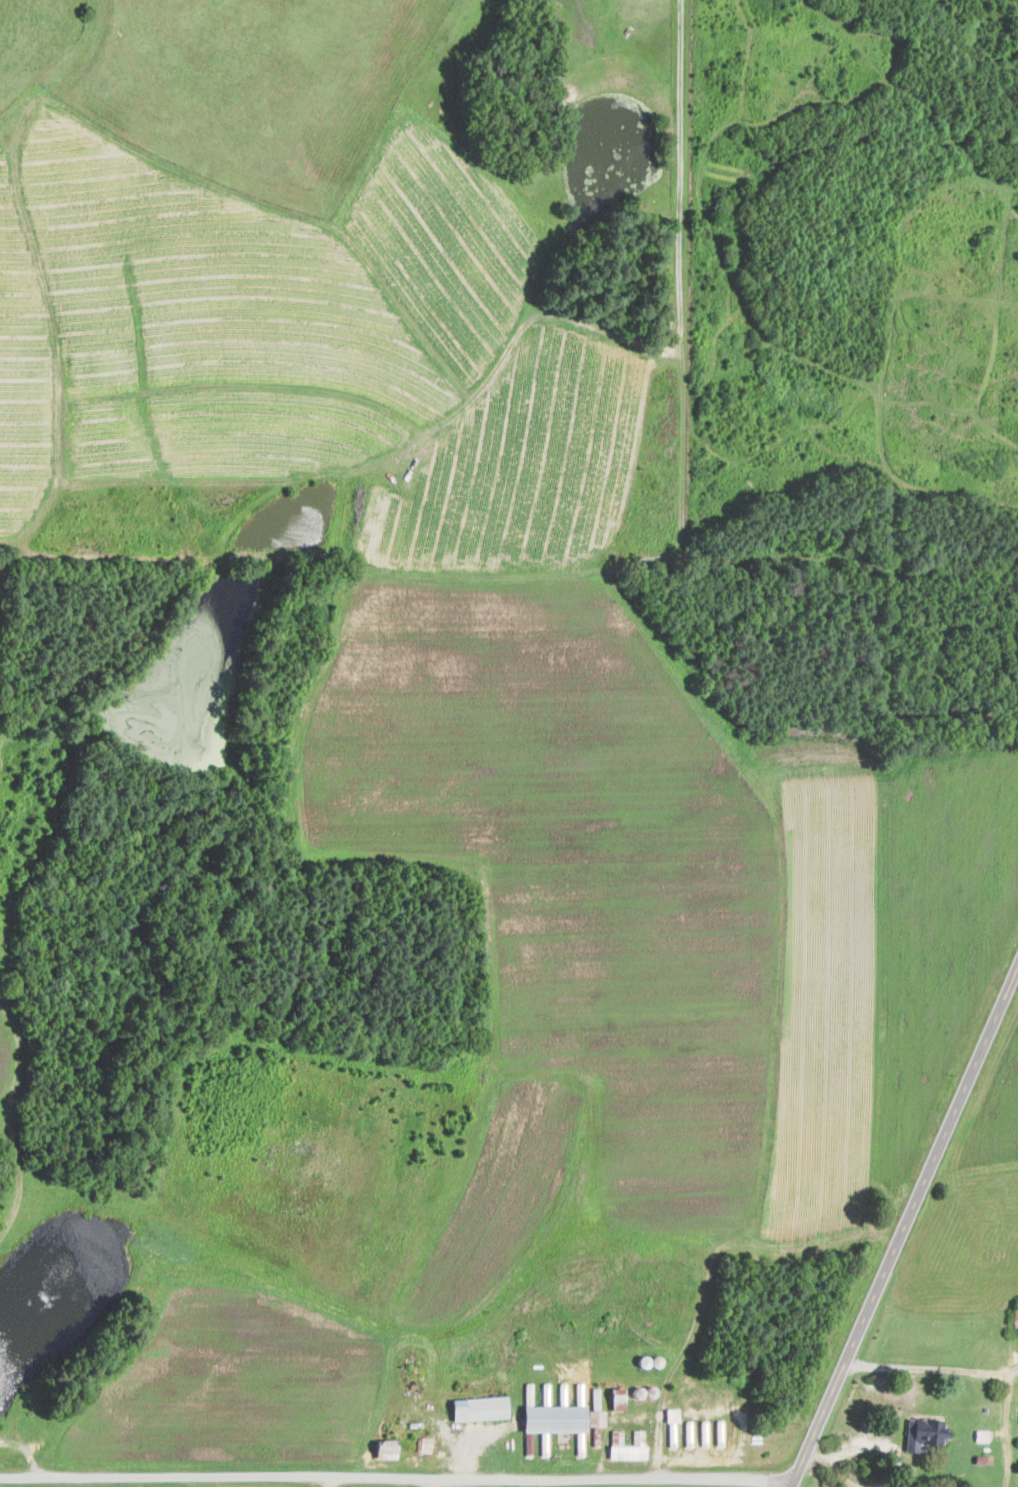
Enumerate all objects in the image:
road: (903, 1228)
building: (1015, 1313)
road: (980, 1370)
road: (1012, 1372)
building: (614, 1398)
building: (594, 1399)
building: (475, 1408)
building: (670, 1414)
building: (593, 1417)
building: (923, 1433)
building: (980, 1435)
building: (614, 1437)
road: (880, 1445)
building: (382, 1448)
building: (628, 1448)
road: (832, 1464)
road: (237, 1485)

